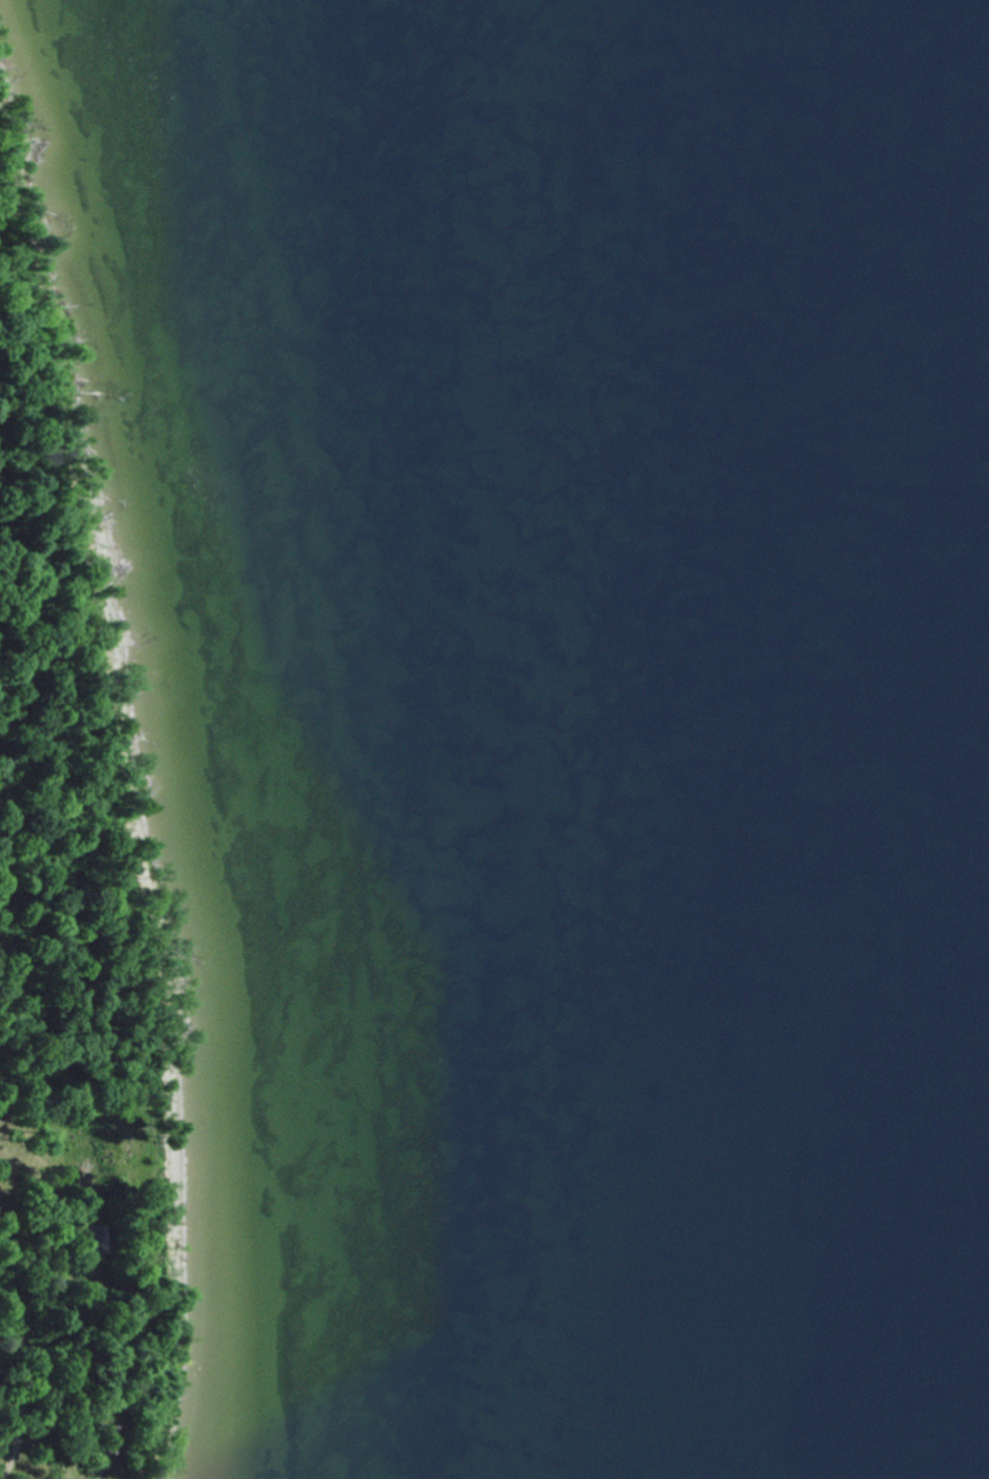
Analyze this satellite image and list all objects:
building: (113, 1145)
building: (91, 1239)
road: (21, 1347)

